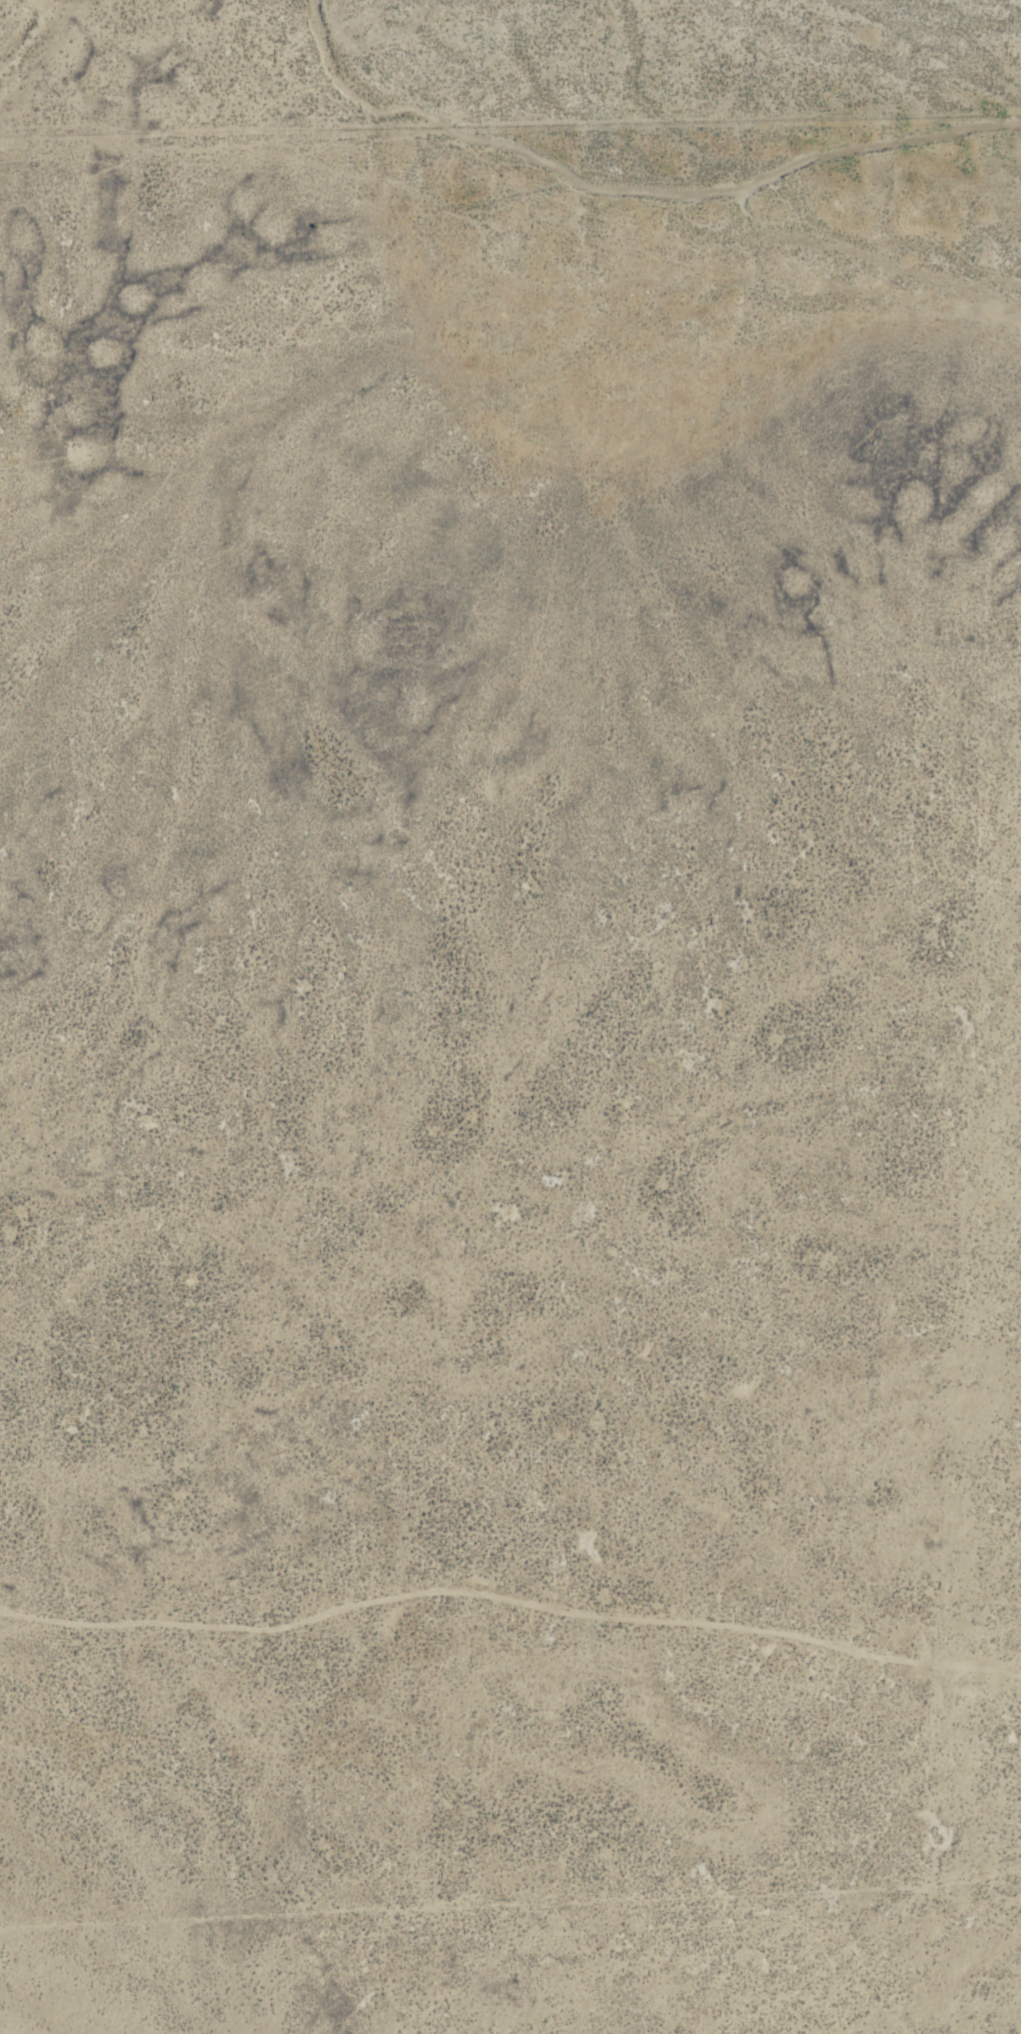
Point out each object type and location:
road: (511, 1597)

